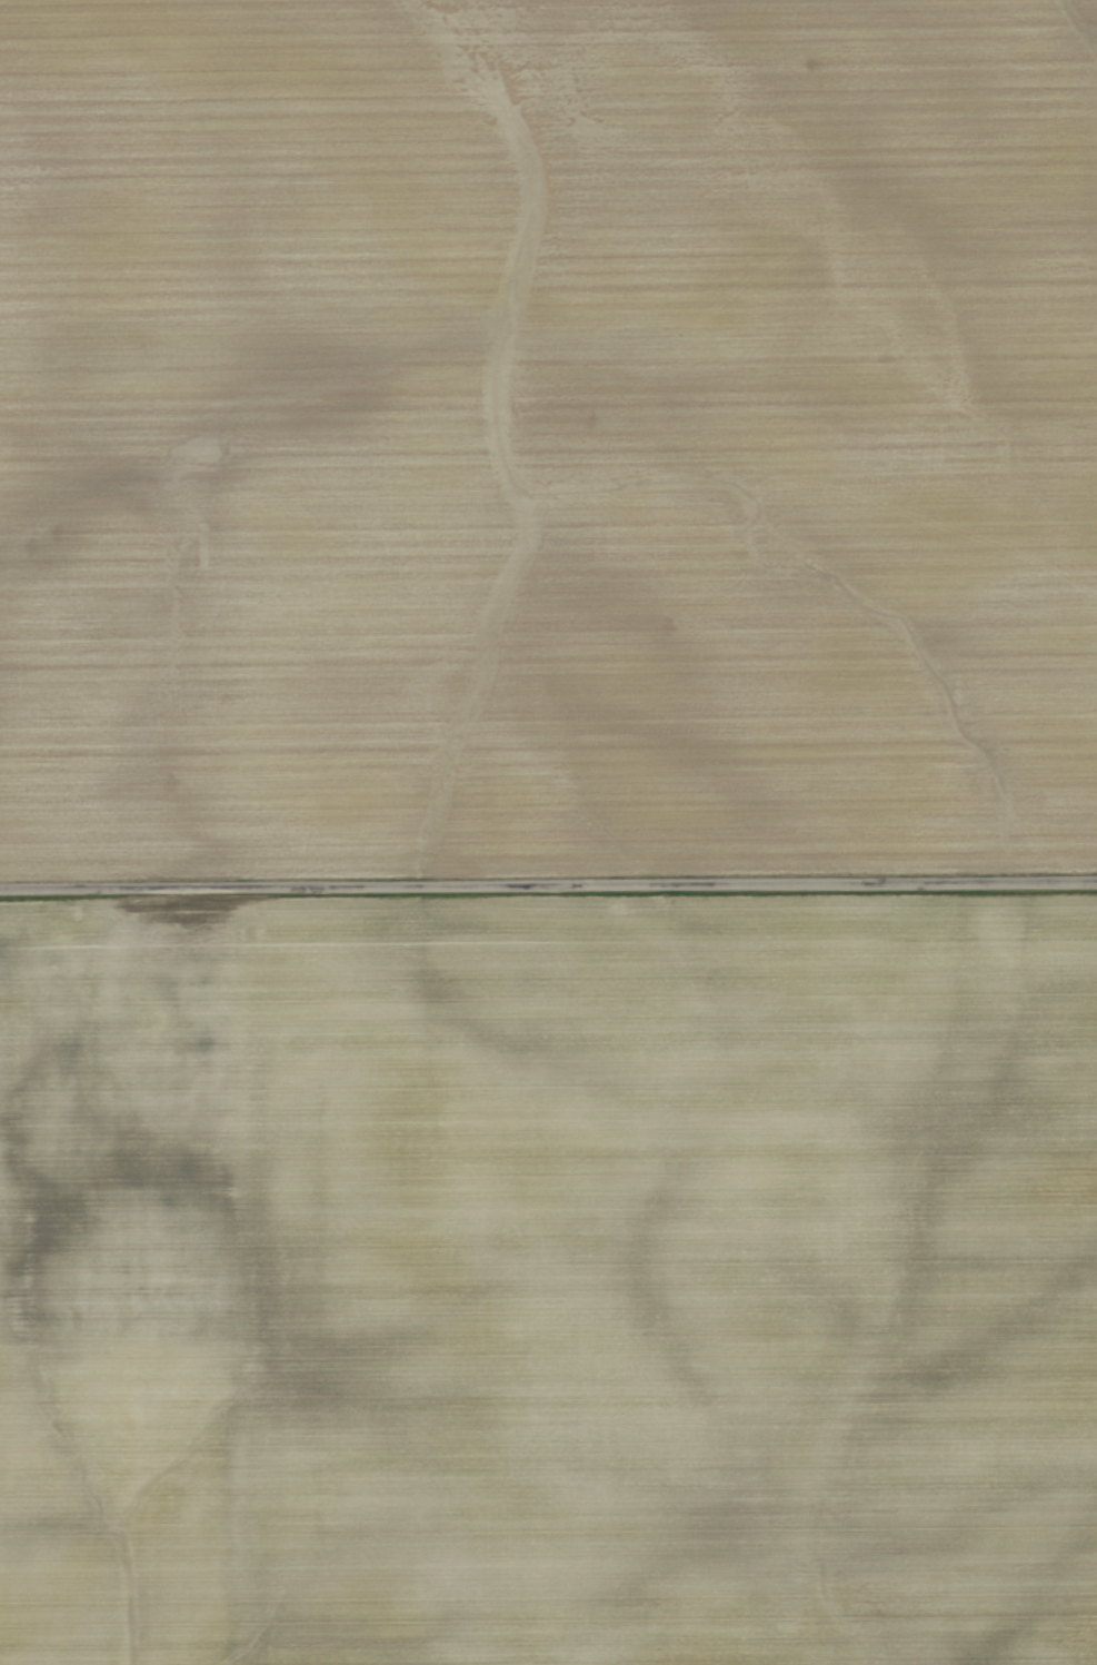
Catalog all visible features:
road: (548, 884)

